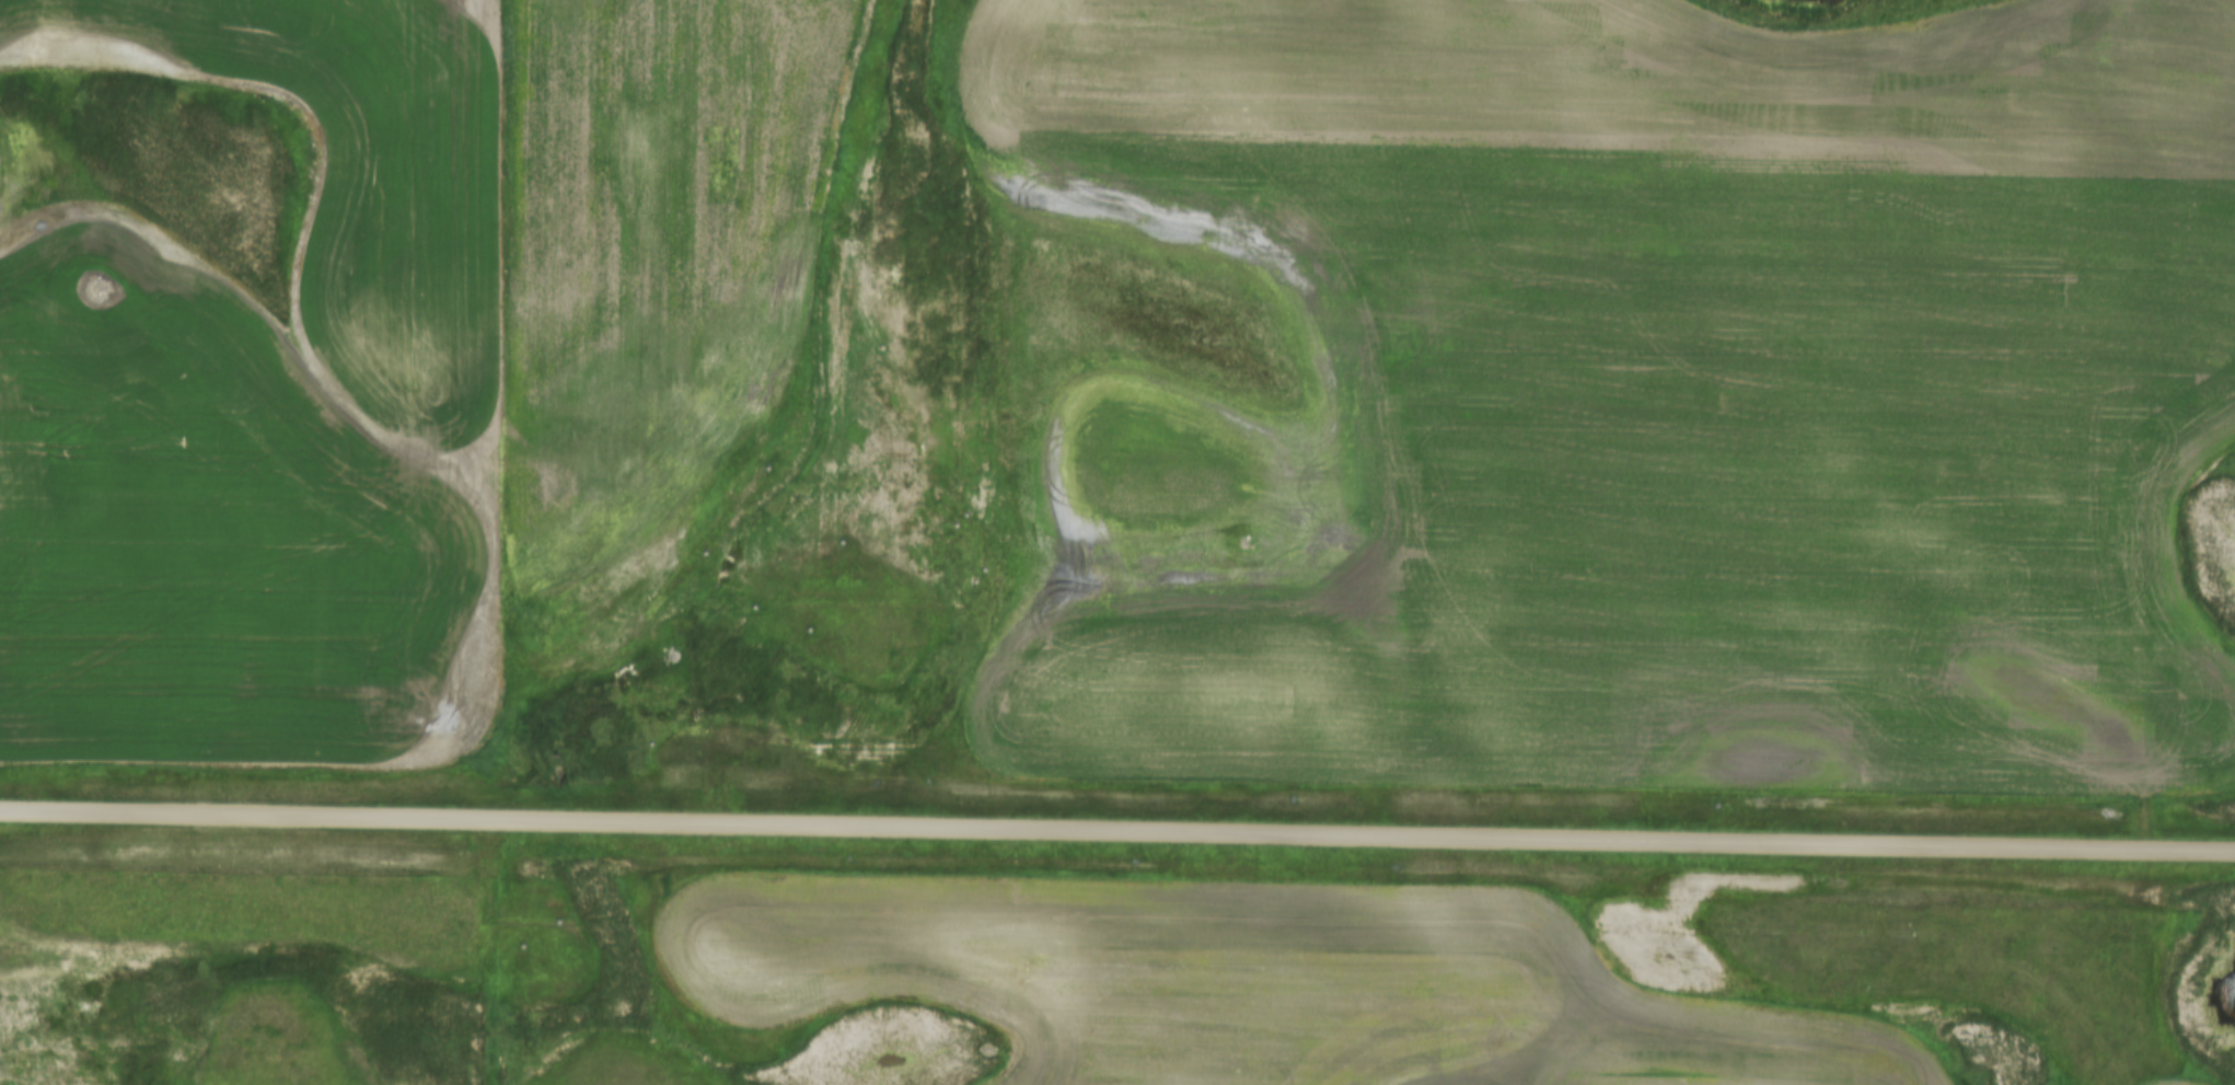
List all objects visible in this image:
road: (1117, 833)

